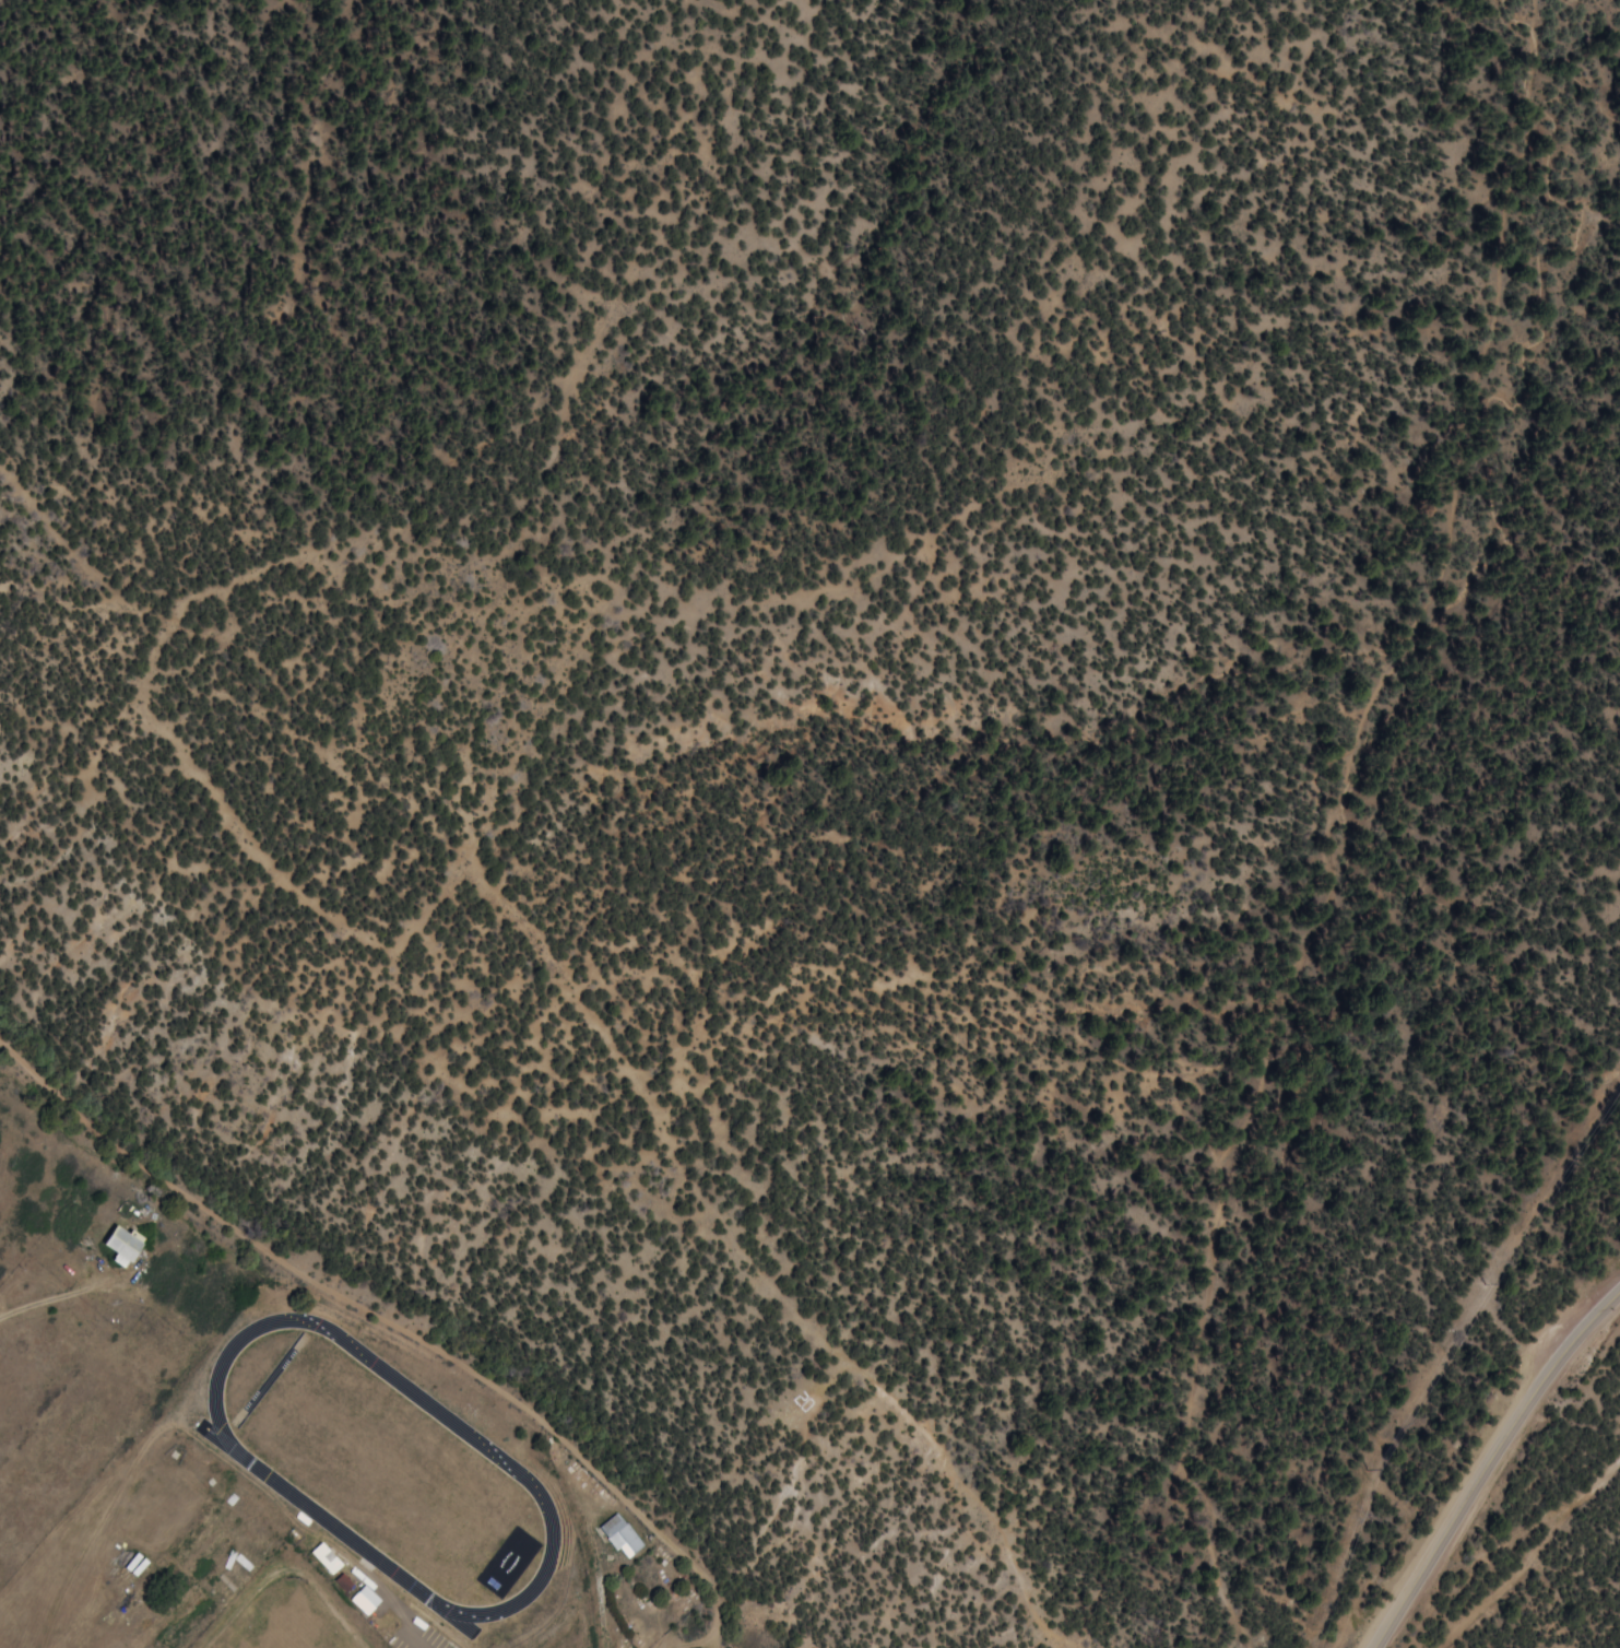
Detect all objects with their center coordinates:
building: (120, 1246)
road: (61, 1295)
road: (395, 1322)
road: (330, 1330)
road: (1486, 1462)
park: (381, 1464)
track: (382, 1465)
building: (619, 1533)
building: (324, 1557)
building: (342, 1581)
building: (363, 1599)
park: (651, 1599)

